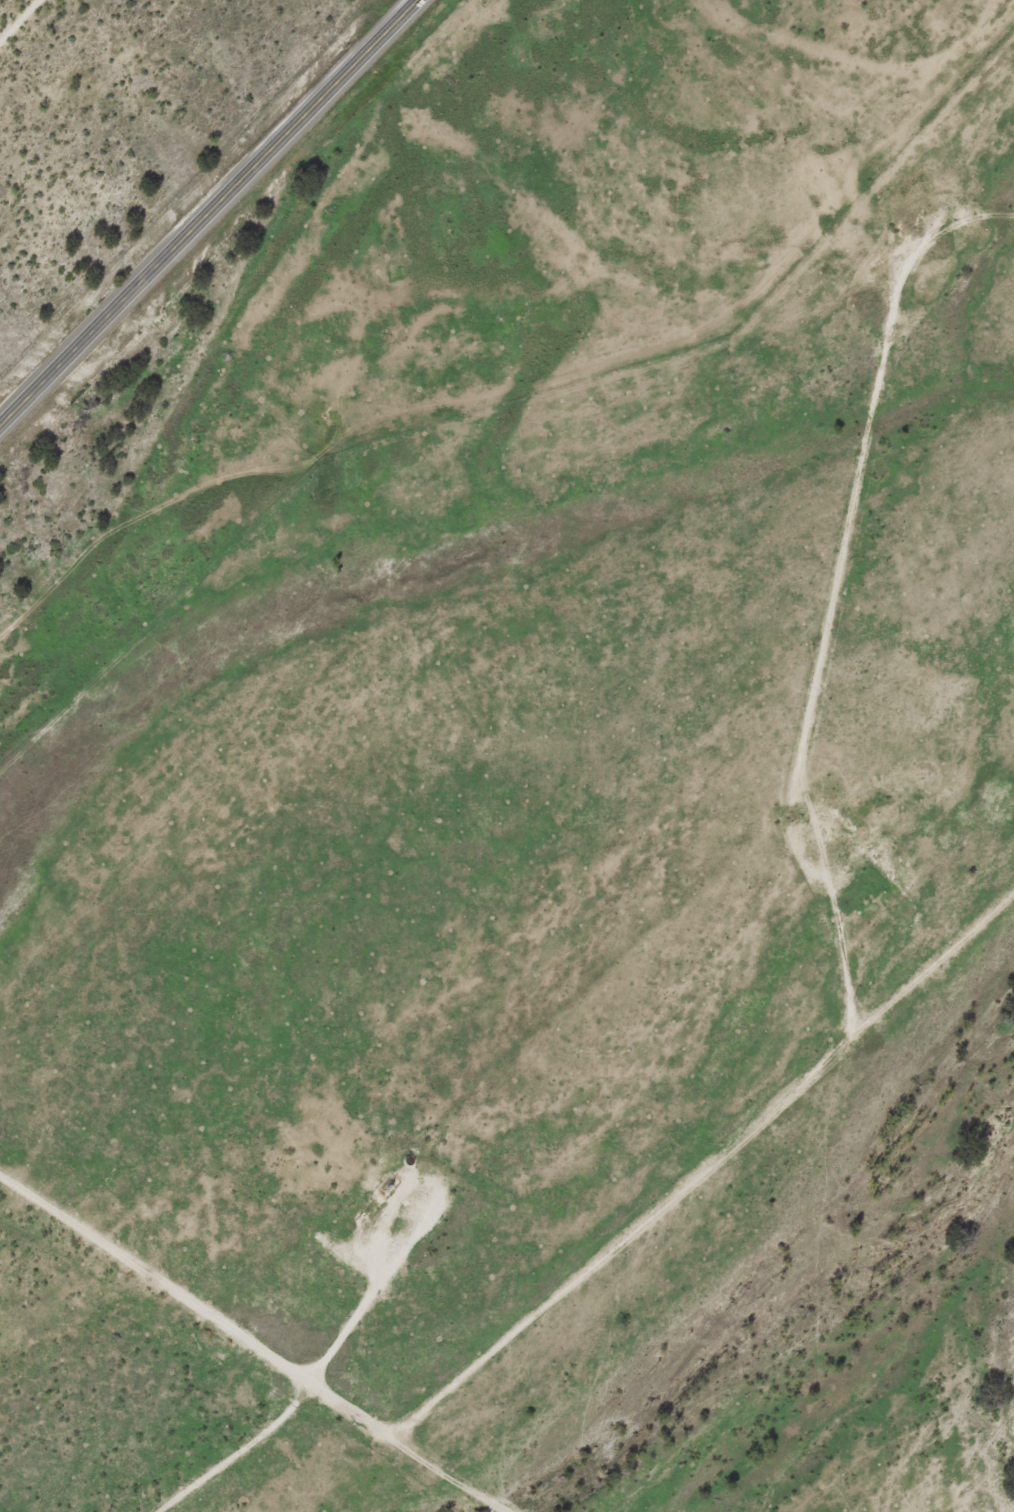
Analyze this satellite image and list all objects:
road: (208, 212)
road: (706, 1176)
river: (815, 1320)
road: (256, 1342)
road: (222, 1446)

